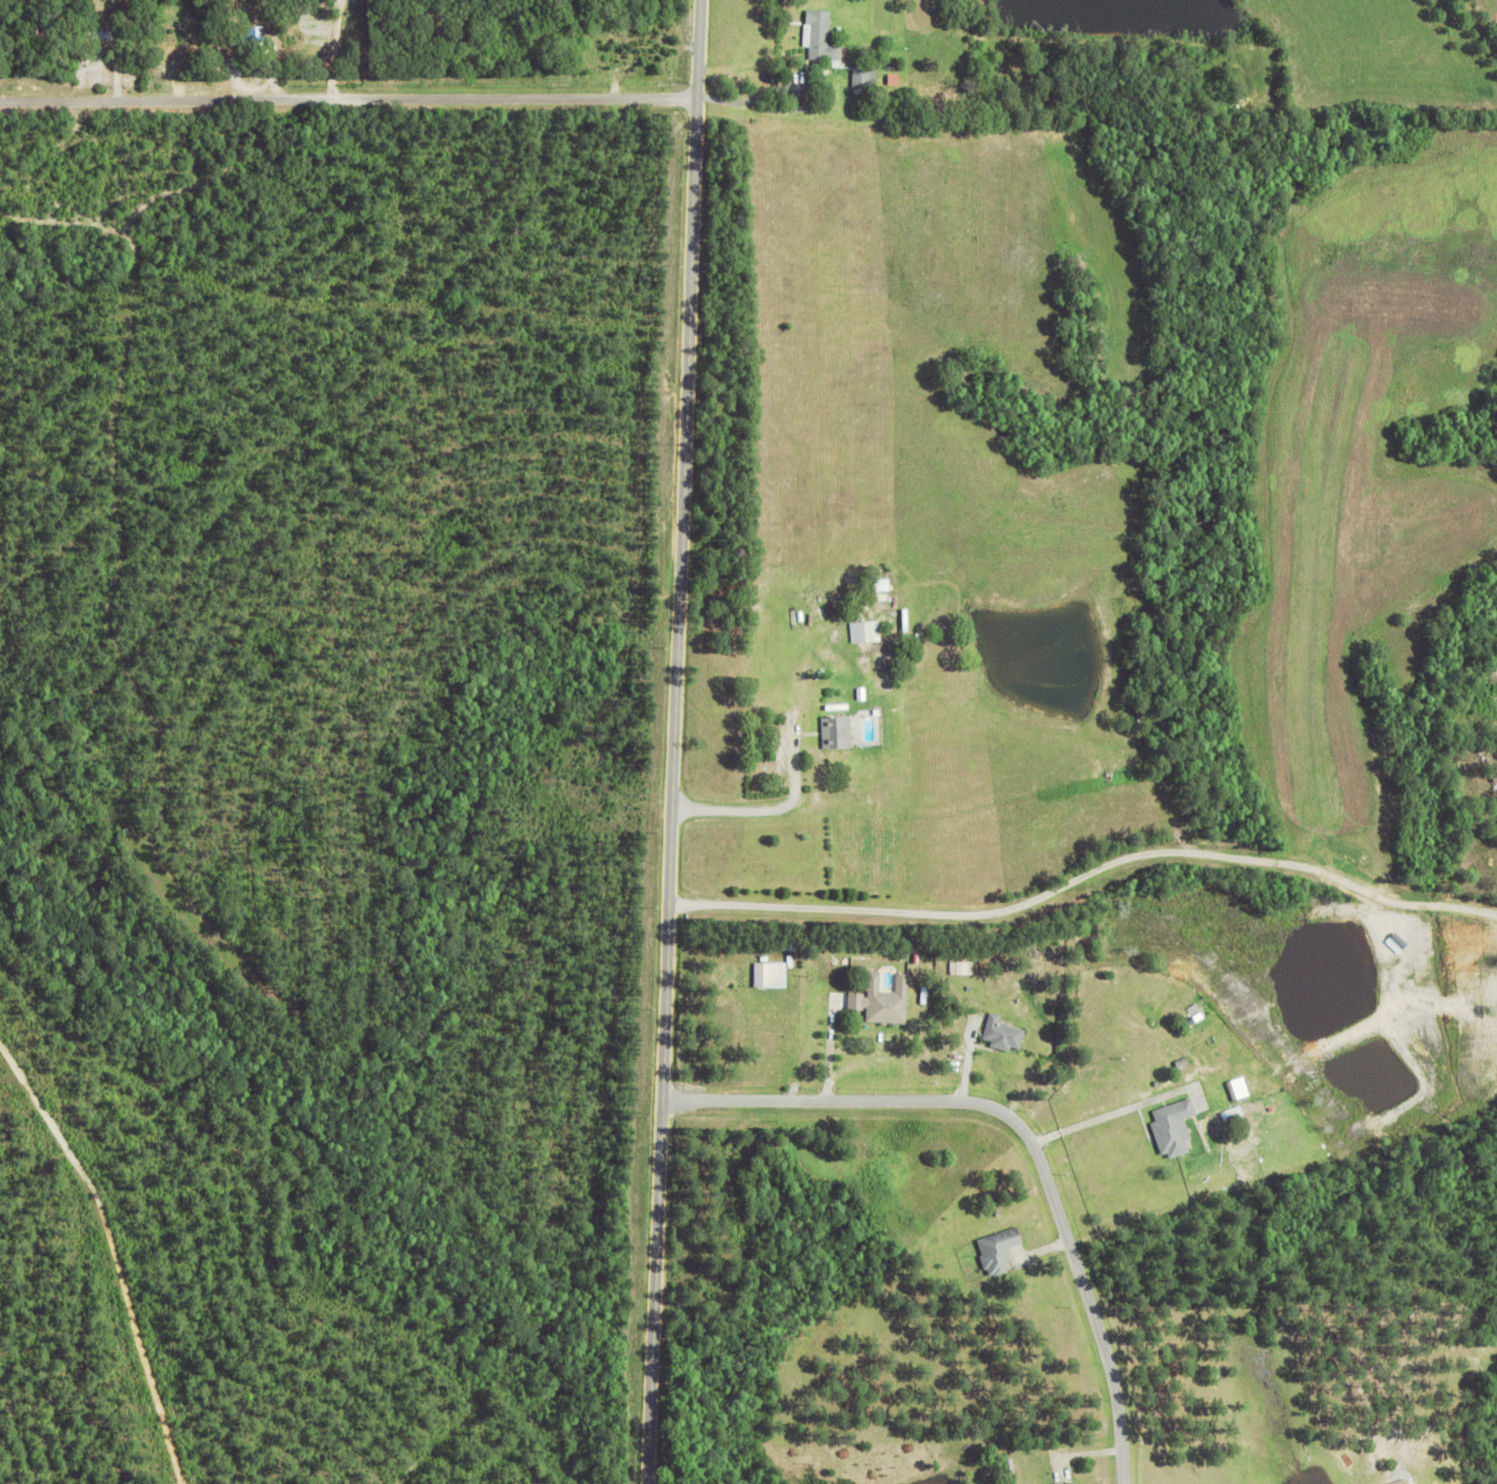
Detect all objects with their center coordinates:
building: (642, 26)
building: (823, 38)
building: (250, 39)
building: (169, 42)
building: (615, 46)
building: (274, 61)
building: (224, 67)
building: (896, 68)
building: (866, 79)
building: (1227, 86)
road: (349, 98)
building: (865, 629)
building: (837, 730)
road: (676, 741)
building: (827, 769)
road: (1085, 874)
building: (961, 967)
building: (770, 973)
building: (883, 998)
building: (999, 1033)
building: (906, 1053)
road: (1102, 1117)
building: (1169, 1126)
road: (1026, 1131)
road: (119, 1250)
building: (994, 1251)
building: (1396, 1481)
building: (1064, 1482)

